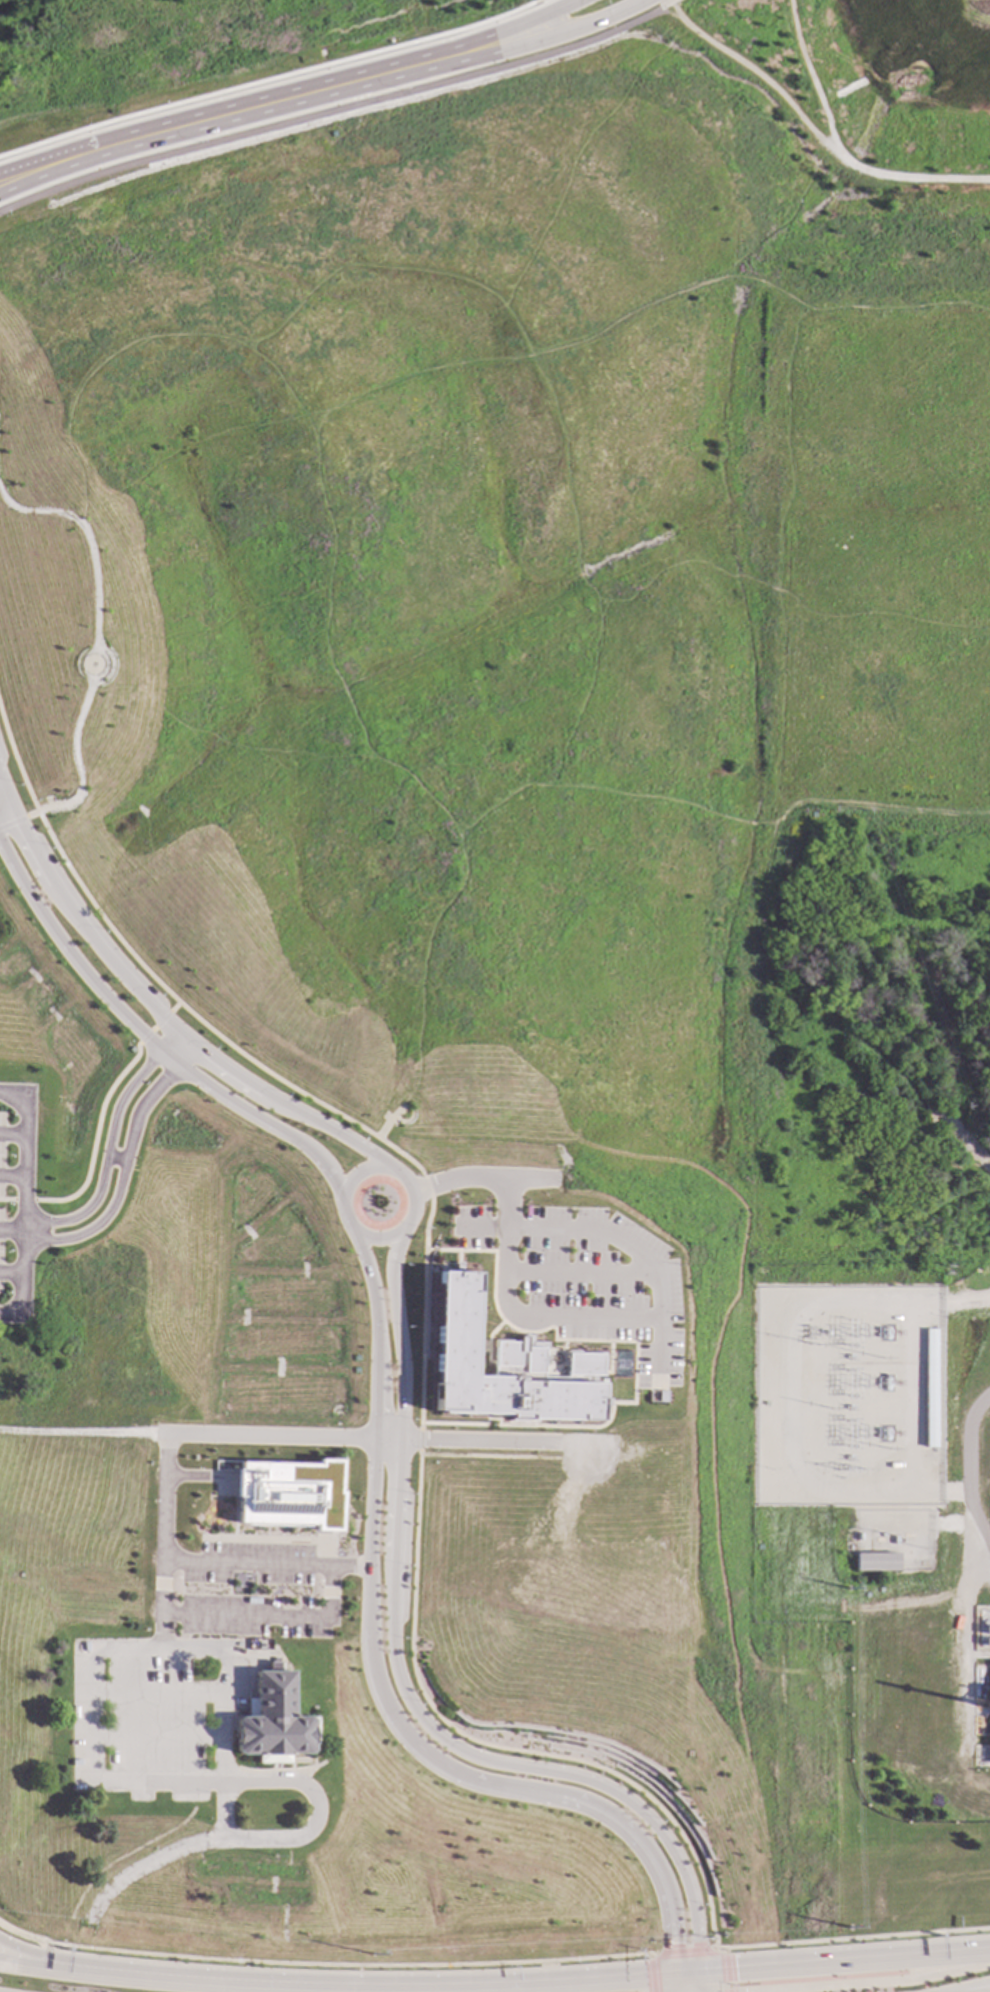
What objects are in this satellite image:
road: (672, 3)
road: (546, 6)
park: (417, 20)
road: (513, 27)
road: (507, 49)
road: (753, 71)
road: (270, 80)
park: (847, 106)
road: (224, 107)
road: (334, 111)
road: (181, 134)
road: (838, 151)
road: (522, 356)
road: (547, 401)
road: (787, 595)
road: (322, 600)
road: (602, 608)
park: (511, 610)
road: (90, 638)
road: (781, 732)
road: (220, 740)
road: (877, 806)
road: (3, 809)
road: (17, 819)
road: (209, 970)
road: (156, 1012)
road: (151, 1043)
road: (257, 1068)
park: (907, 1099)
road: (95, 1124)
road: (12, 1135)
road: (107, 1144)
road: (122, 1166)
road: (379, 1167)
road: (11, 1178)
road: (478, 1180)
parking lot: (15, 1199)
road: (22, 1202)
road: (340, 1217)
road: (10, 1230)
road: (386, 1237)
road: (606, 1237)
road: (574, 1272)
road: (10, 1273)
parking lot: (576, 1282)
road: (965, 1300)
road: (530, 1322)
building: (501, 1370)
power substation: (843, 1395)
road: (539, 1426)
road: (77, 1431)
road: (355, 1439)
road: (417, 1439)
road: (486, 1457)
road: (965, 1467)
road: (195, 1476)
building: (288, 1494)
road: (161, 1540)
building: (876, 1563)
parking lot: (249, 1564)
road: (265, 1564)
road: (181, 1588)
road: (229, 1589)
power tower: (847, 1589)
parking lot: (255, 1616)
road: (270, 1616)
building: (988, 1629)
road: (115, 1648)
building: (938, 1654)
road: (380, 1687)
road: (155, 1688)
road: (404, 1689)
building: (988, 1706)
parking lot: (155, 1714)
building: (274, 1721)
road: (155, 1735)
road: (497, 1747)
road: (251, 1841)
power tower: (848, 1927)
road: (19, 1933)
road: (853, 1938)
traffic signals: (675, 1944)
road: (687, 1952)
road: (48, 1954)
road: (653, 1954)
road: (27, 1955)
power tower: (373, 1956)
road: (845, 1962)
road: (28, 1963)
road: (344, 1964)
road: (726, 1970)
traffic signals: (735, 1970)
road: (651, 1973)
road: (689, 1973)
road: (701, 1982)
road: (677, 1983)
road: (693, 1983)
road: (882, 1984)
road: (968, 1985)
road: (366, 1989)

